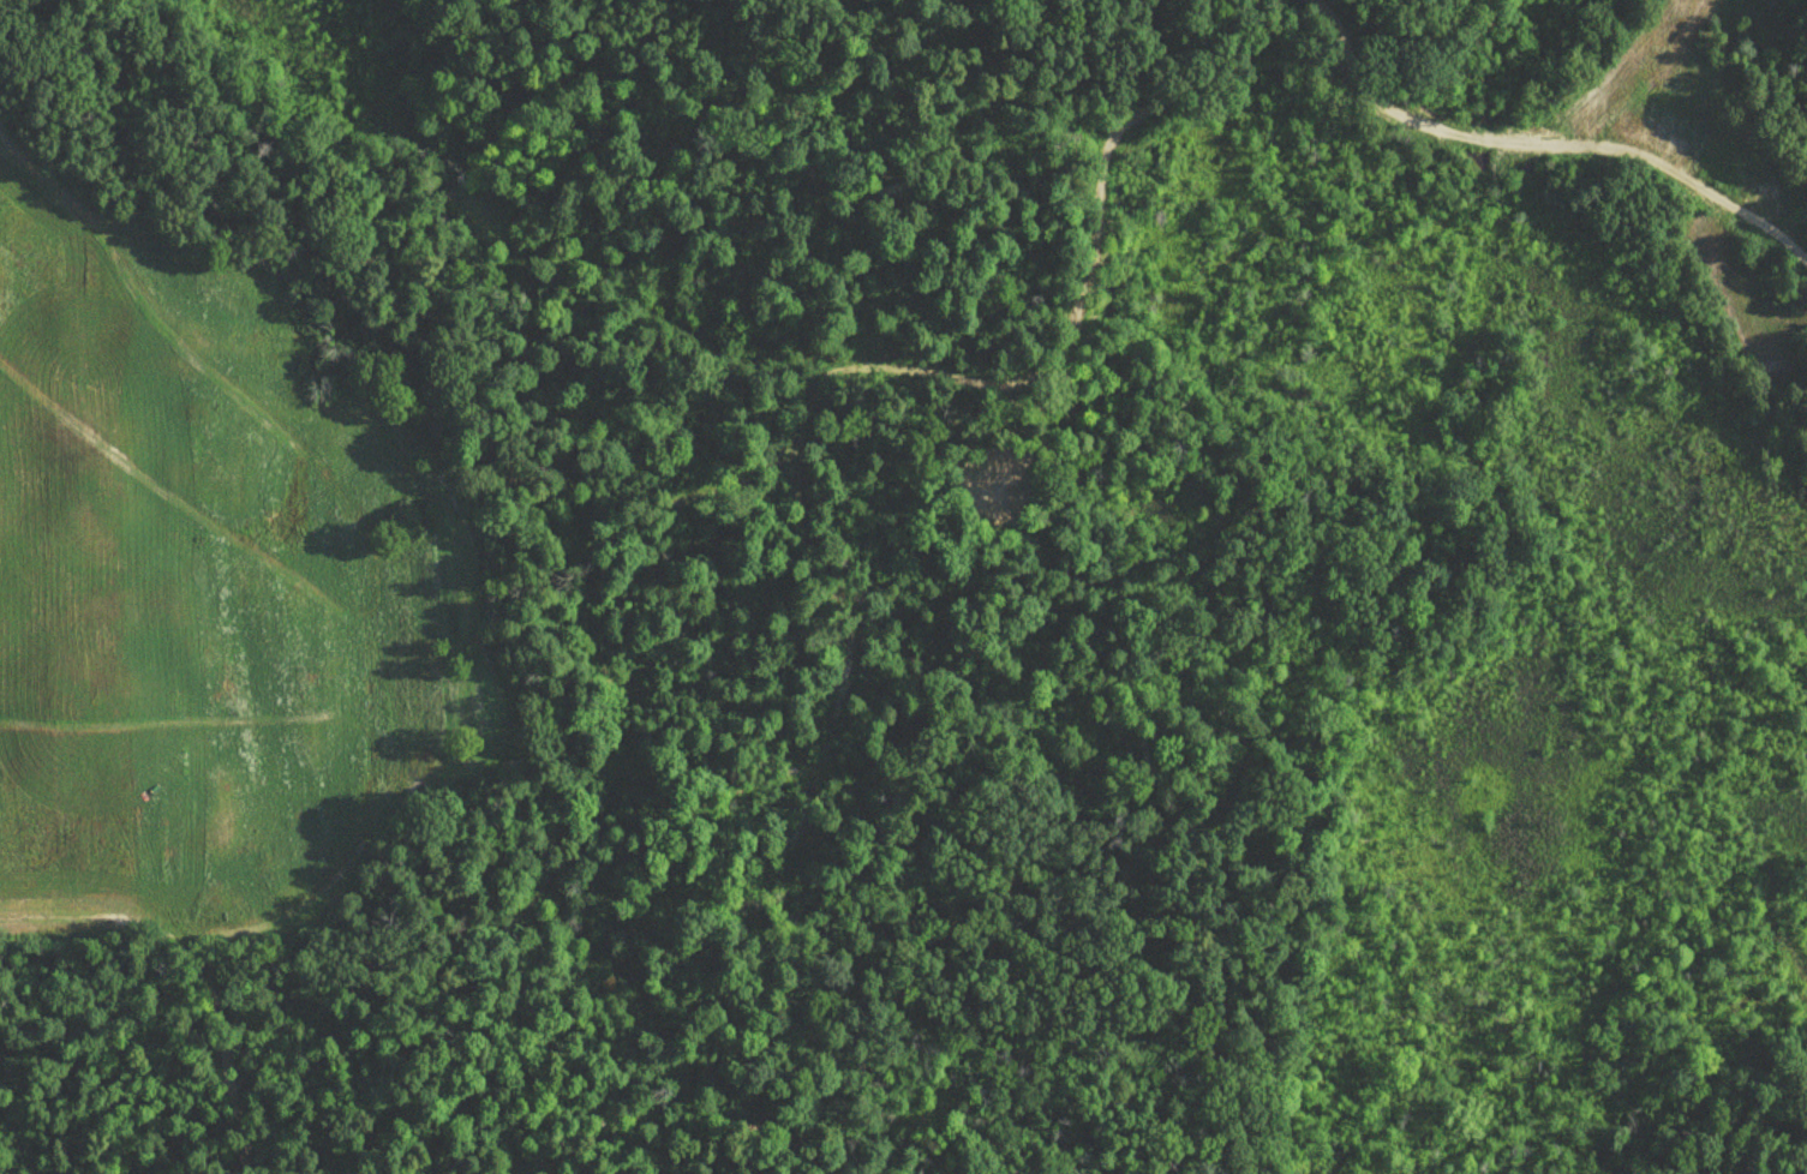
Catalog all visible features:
road: (1540, 145)
road: (1087, 265)
road: (222, 1053)

